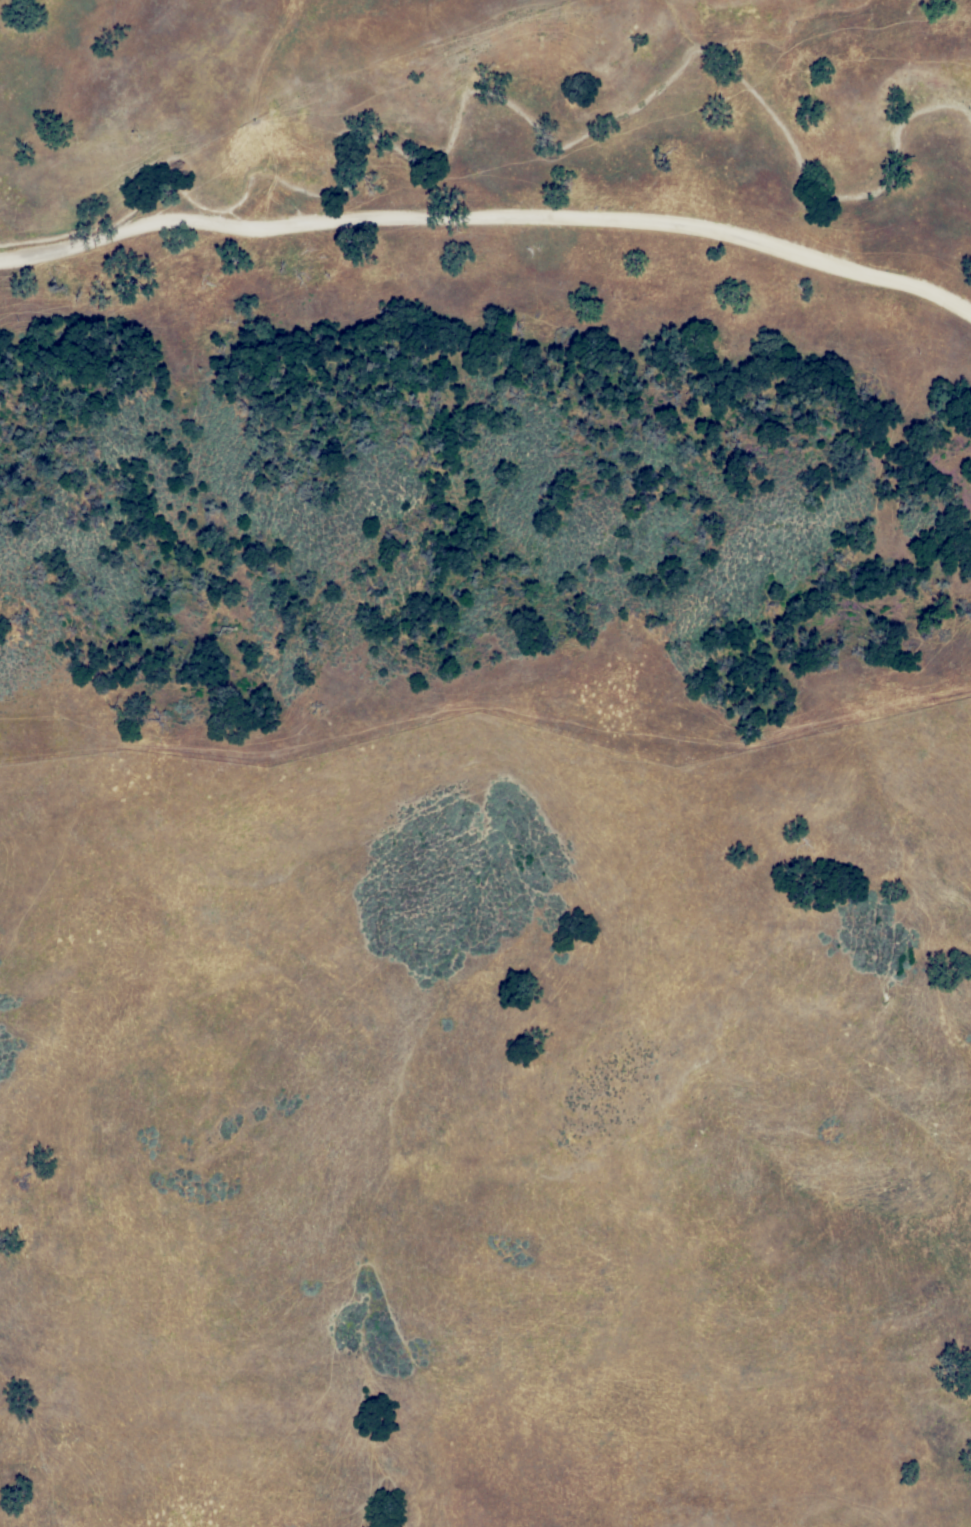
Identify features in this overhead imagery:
road: (490, 209)

